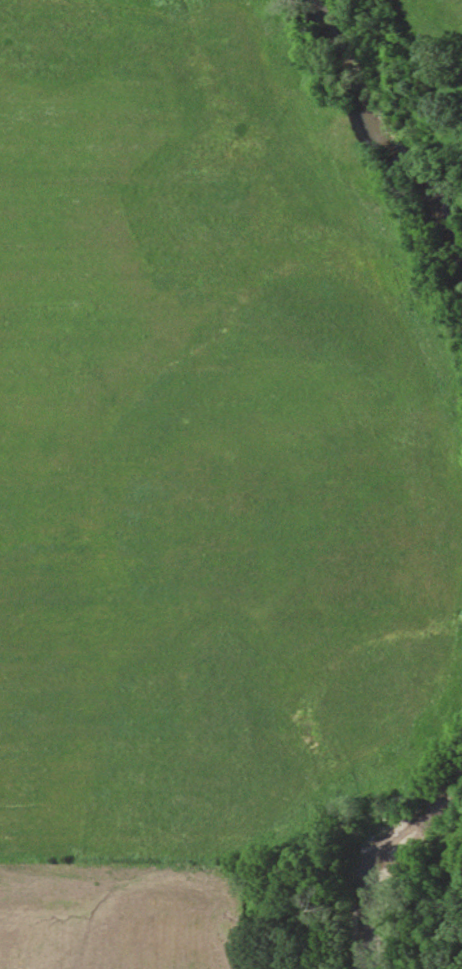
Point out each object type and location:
river: (393, 125)
river: (409, 865)

